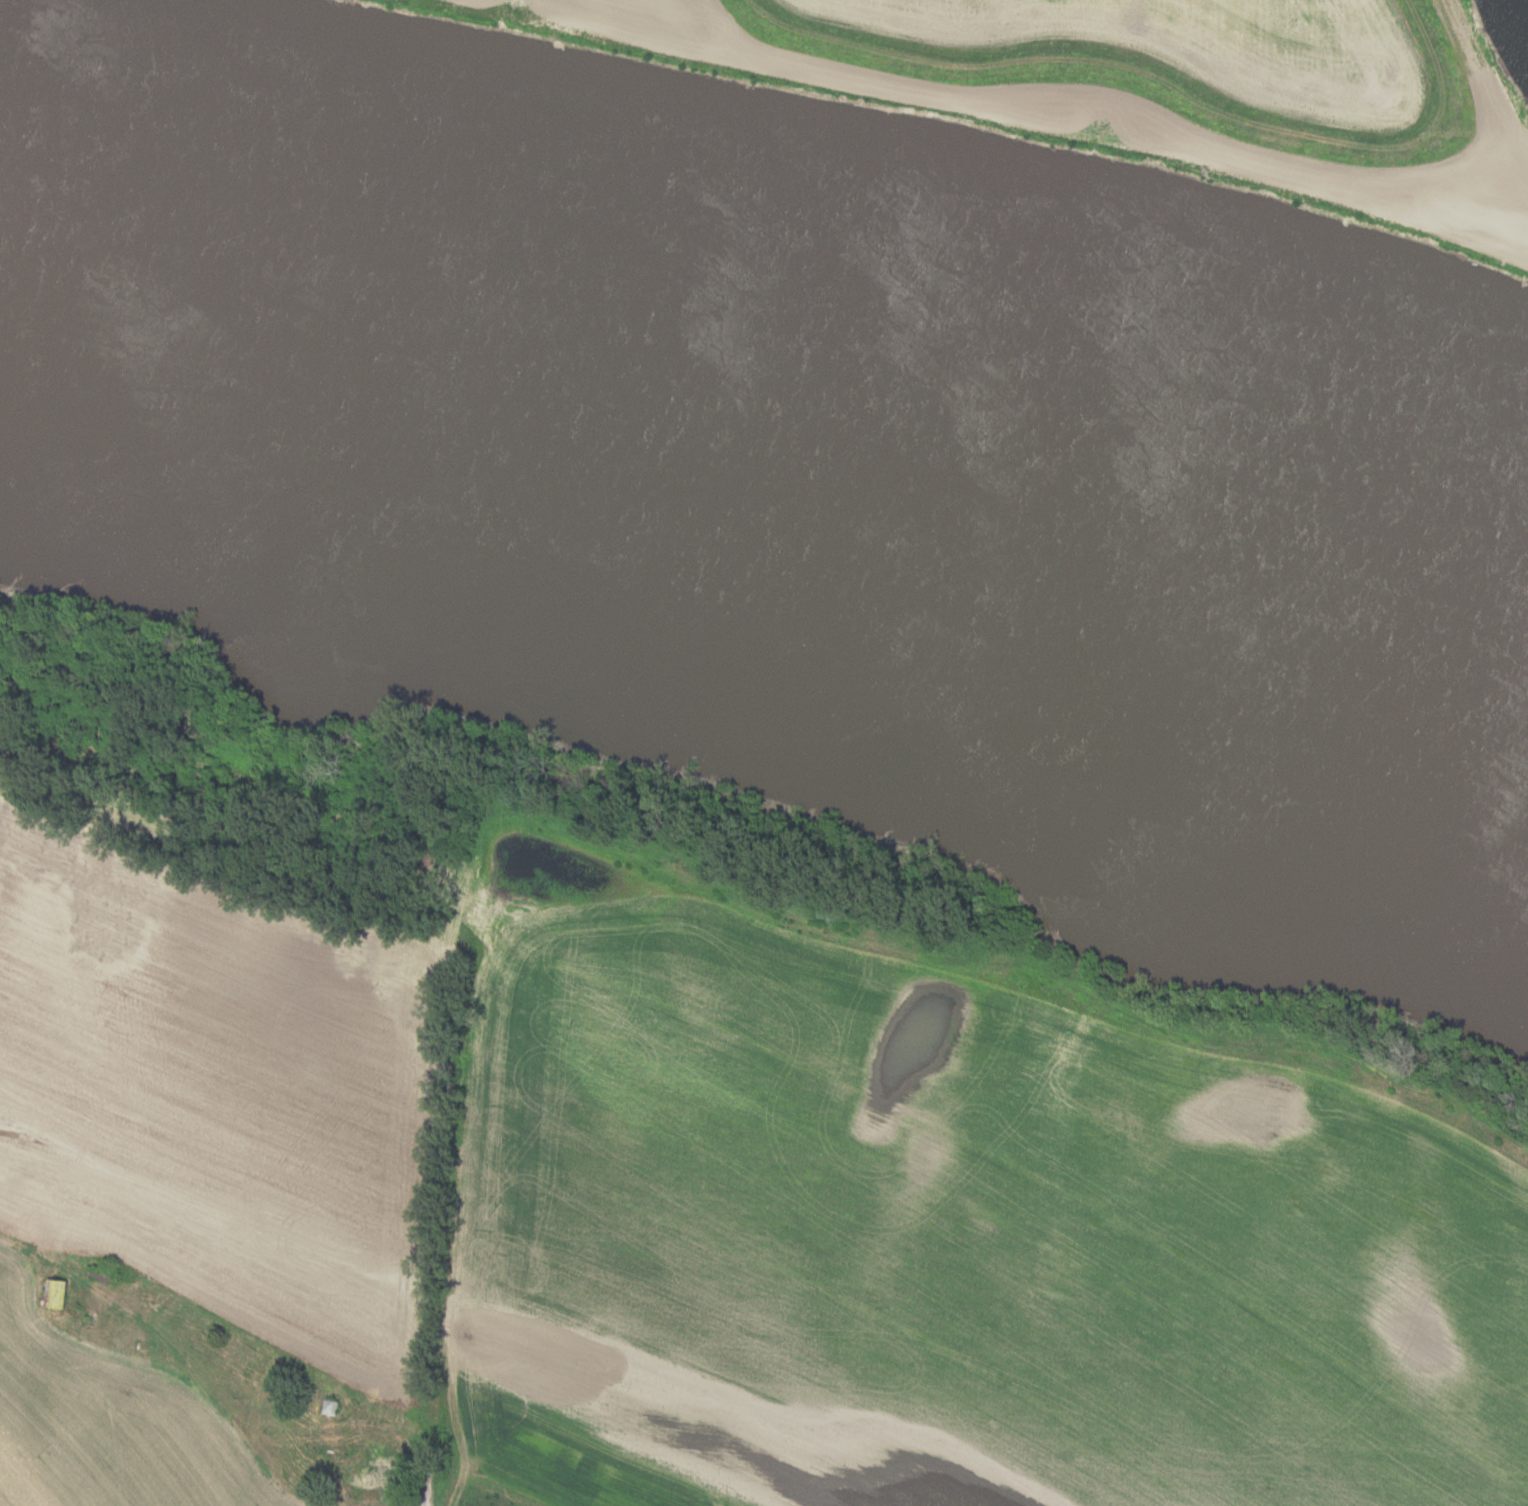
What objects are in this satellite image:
river: (1525, 8)
river: (778, 443)
crop: (203, 1144)
crop: (957, 1233)
building: (55, 1293)
road: (213, 1403)
building: (328, 1407)
road: (430, 1477)

